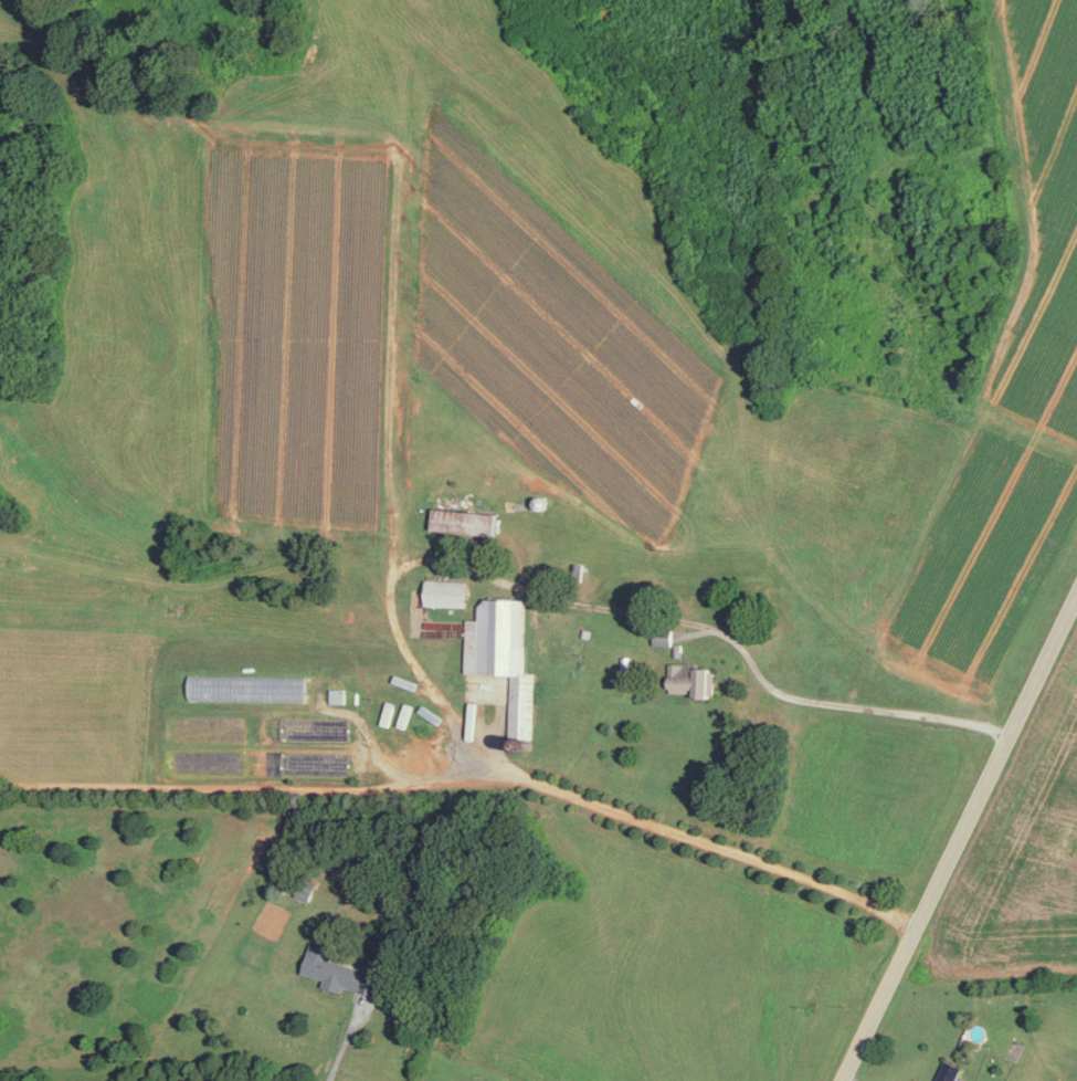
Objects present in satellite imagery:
building: (467, 521)
building: (448, 591)
road: (393, 620)
building: (664, 636)
building: (505, 653)
building: (693, 678)
building: (339, 694)
road: (832, 704)
road: (254, 789)
road: (959, 837)
road: (715, 844)
building: (341, 970)
road: (345, 1040)
building: (950, 1071)
road: (849, 1079)

